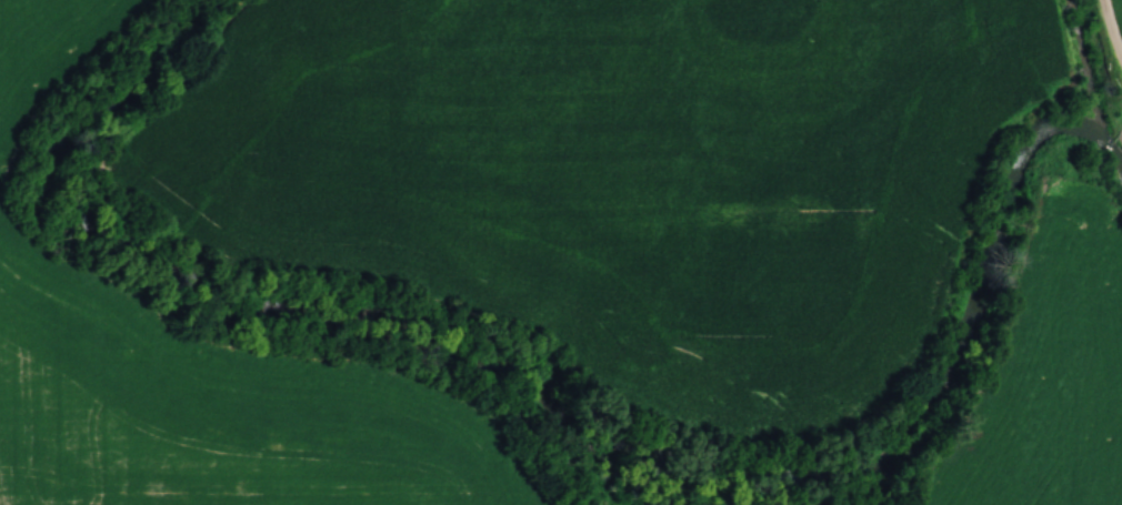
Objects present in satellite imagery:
river: (552, 425)

